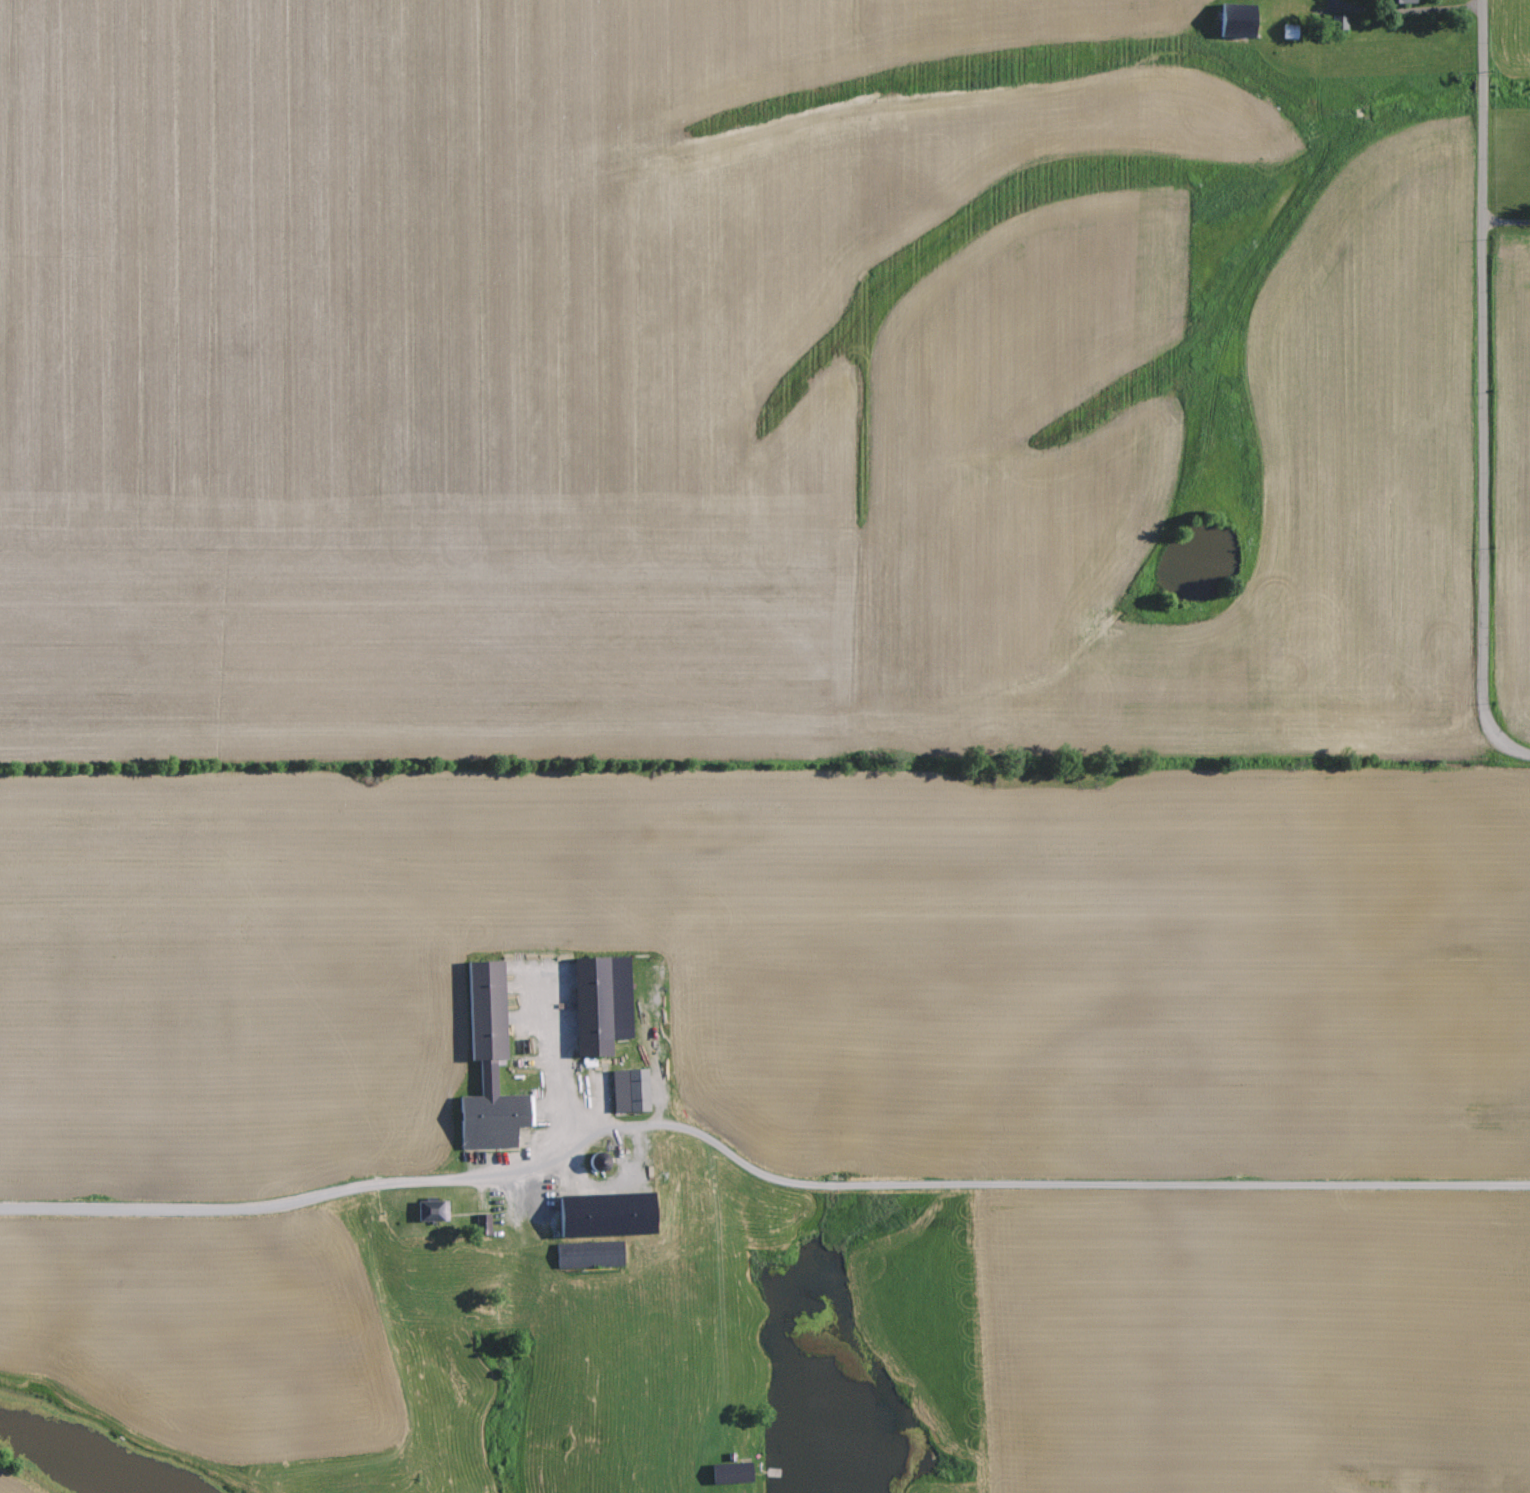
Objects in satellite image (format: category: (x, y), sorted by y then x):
building: (1404, 1)
building: (1236, 20)
building: (1339, 22)
road: (1504, 226)
road: (1477, 397)
building: (600, 1002)
building: (484, 1009)
building: (629, 1090)
building: (492, 1117)
road: (752, 1169)
building: (588, 1254)
building: (730, 1472)

